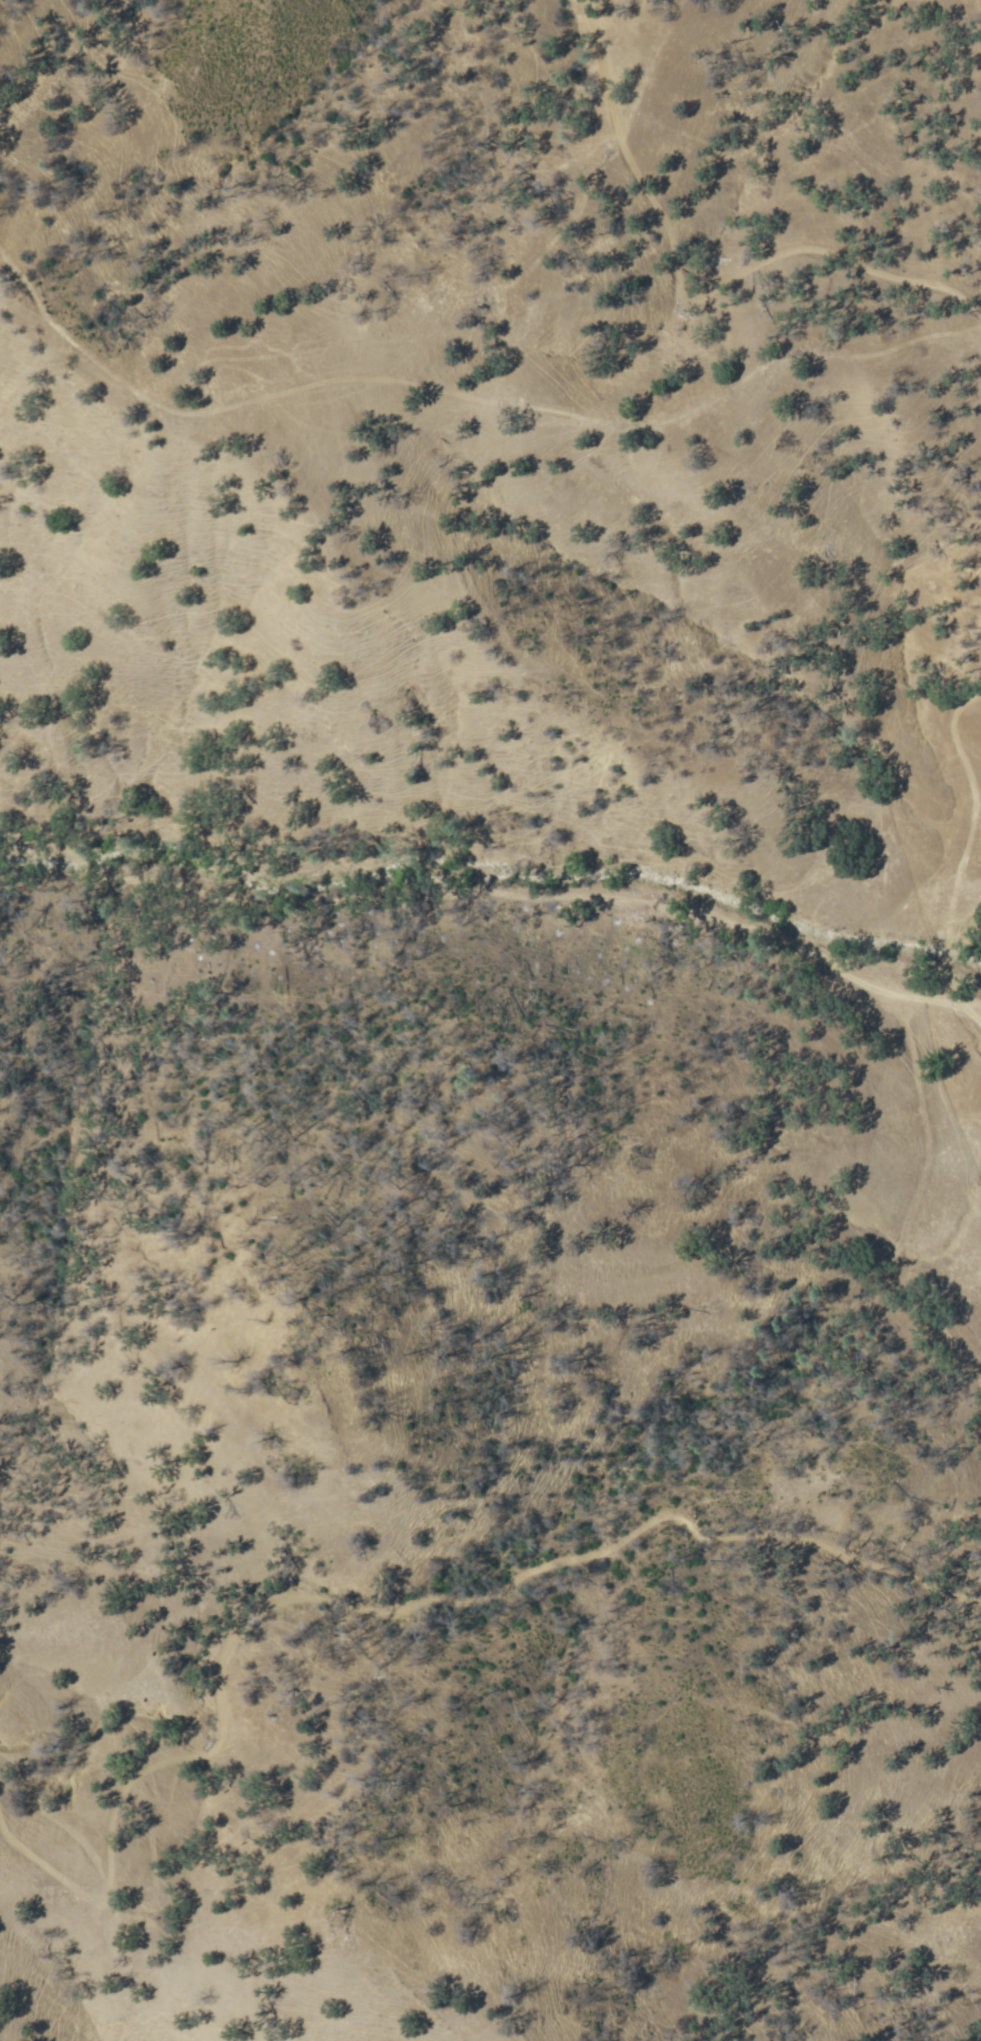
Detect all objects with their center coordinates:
road: (979, 792)
road: (963, 893)
road: (945, 959)
road: (975, 1013)

